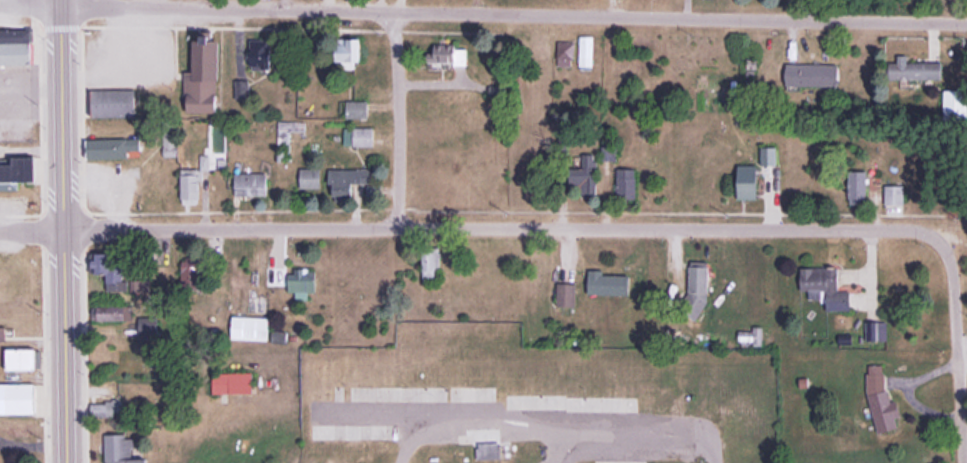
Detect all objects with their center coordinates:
road: (33, 5)
road: (516, 14)
building: (16, 47)
building: (586, 52)
building: (260, 54)
building: (566, 54)
building: (449, 57)
building: (916, 70)
building: (812, 75)
building: (205, 78)
building: (113, 103)
building: (955, 105)
building: (357, 109)
road: (397, 120)
building: (289, 130)
building: (359, 136)
building: (112, 148)
building: (172, 151)
building: (609, 153)
building: (21, 171)
building: (585, 175)
building: (760, 176)
building: (311, 178)
building: (348, 181)
building: (626, 182)
building: (251, 184)
building: (859, 186)
building: (894, 200)
road: (472, 229)
road: (67, 231)
building: (431, 265)
building: (120, 276)
building: (190, 277)
building: (696, 279)
building: (301, 283)
building: (609, 284)
building: (825, 287)
building: (567, 295)
building: (256, 301)
building: (111, 312)
building: (251, 328)
building: (1, 334)
road: (960, 351)
building: (24, 359)
building: (233, 382)
building: (18, 399)
building: (881, 399)
building: (105, 408)
building: (20, 427)
road: (560, 429)
road: (567, 447)
building: (121, 449)

